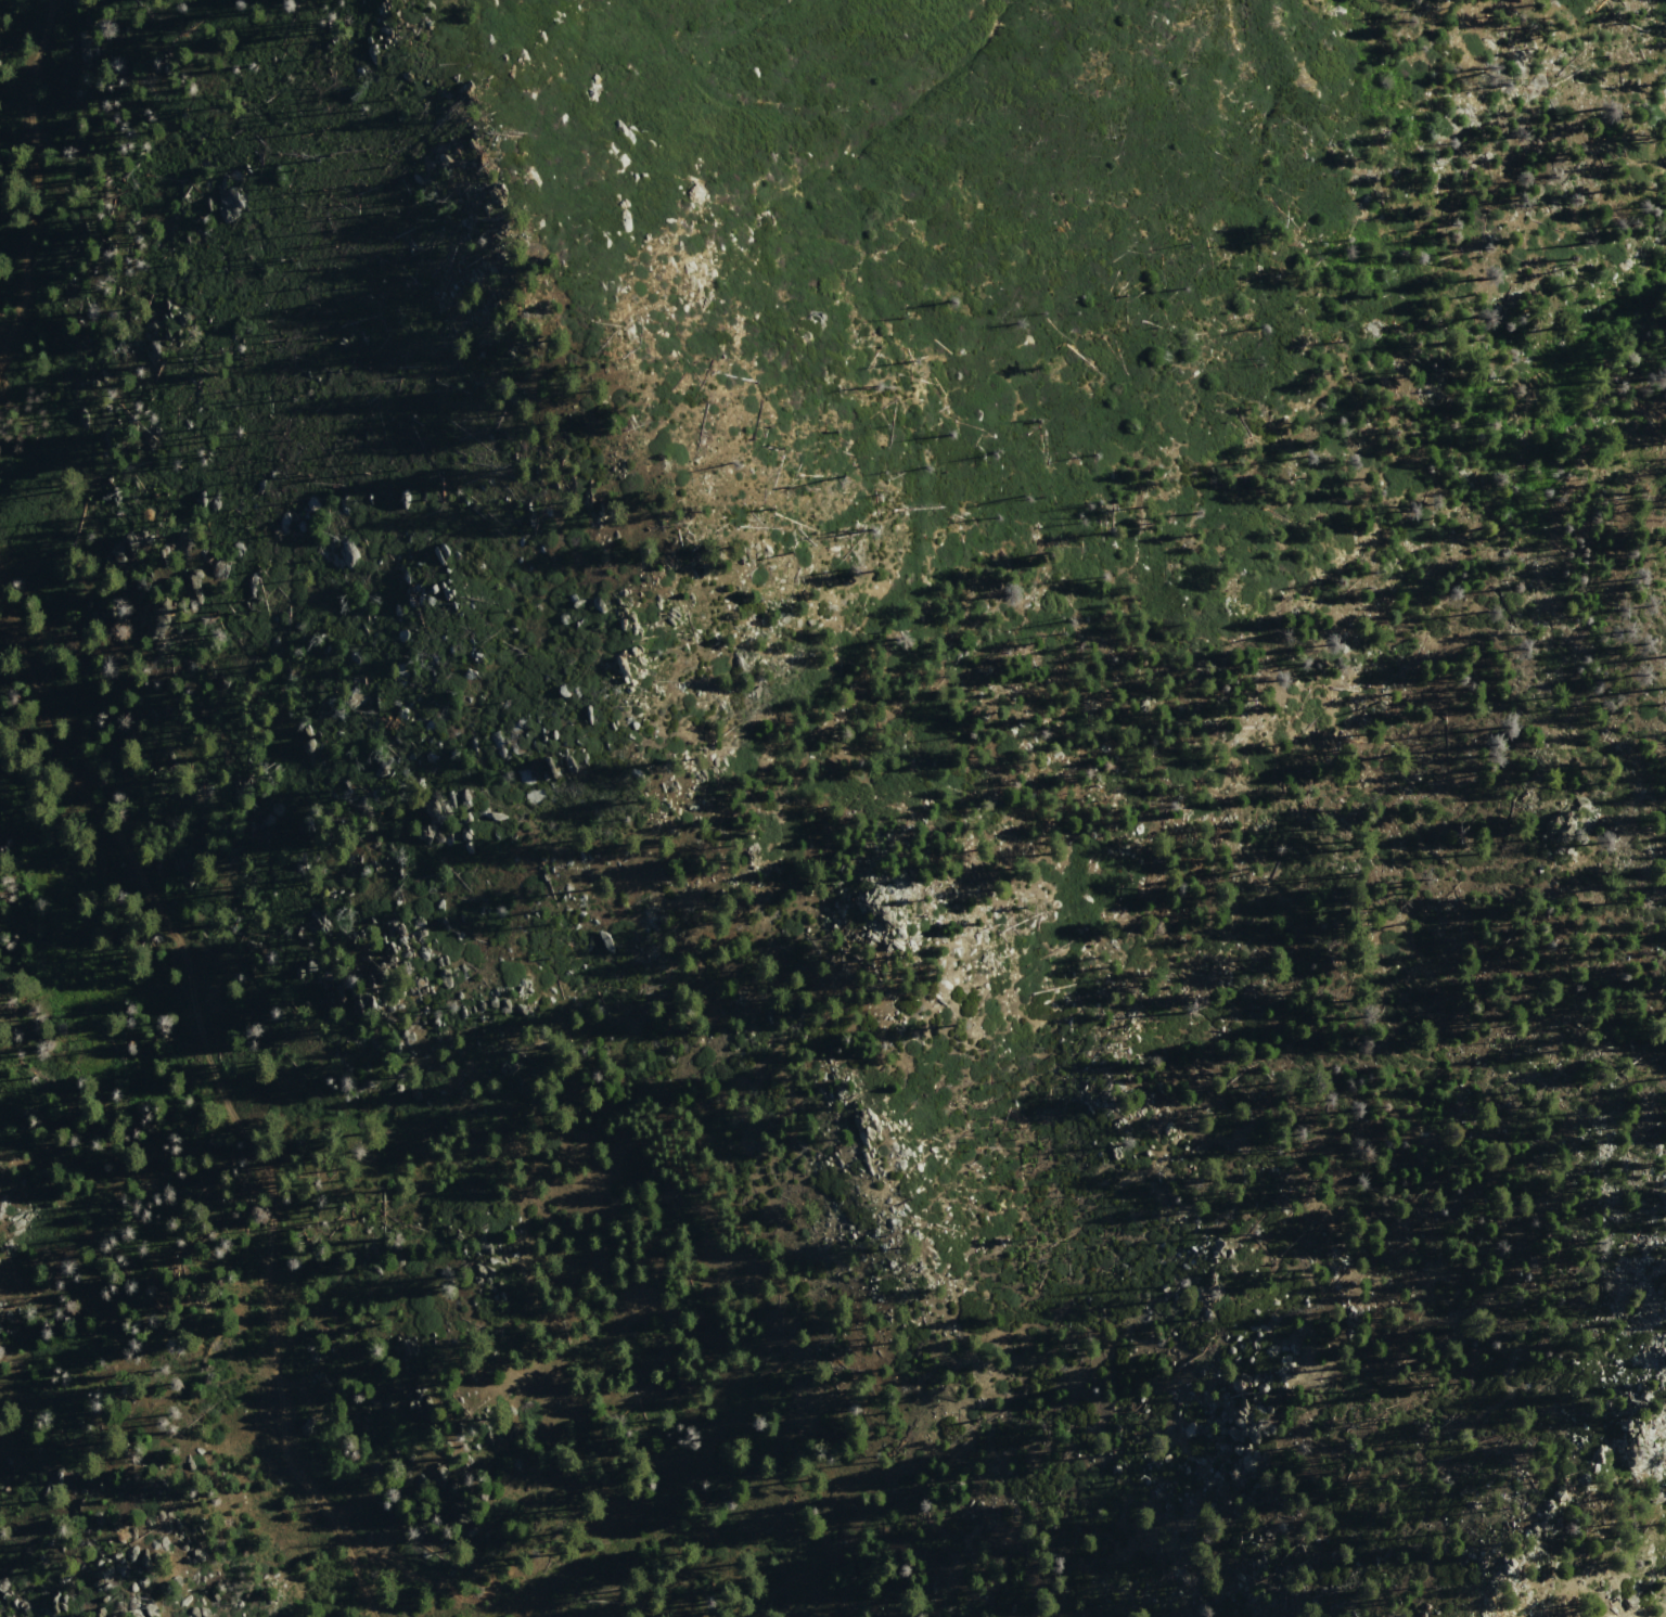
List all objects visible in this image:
road: (230, 1086)

